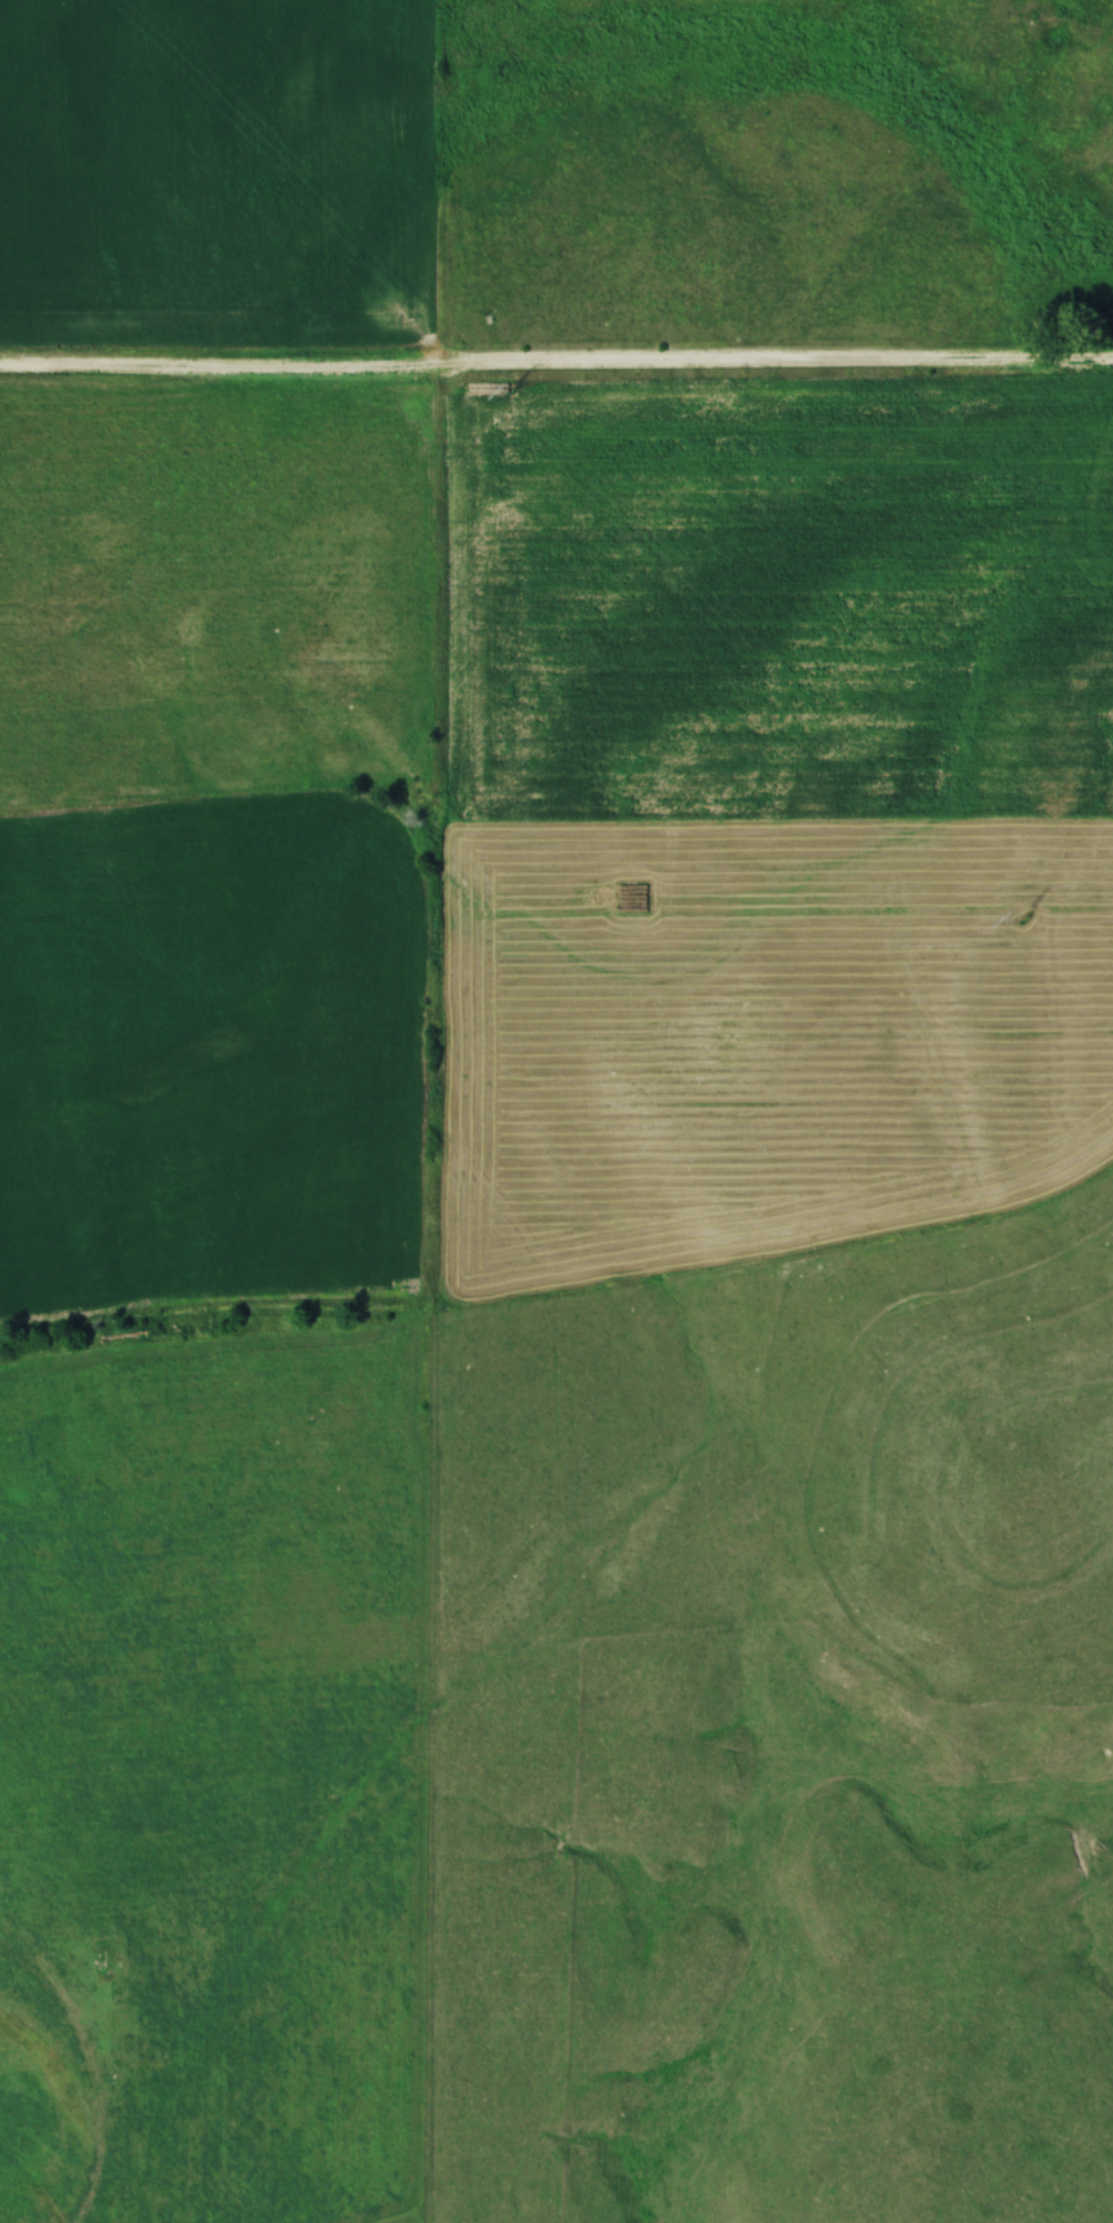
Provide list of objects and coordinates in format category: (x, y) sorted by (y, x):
road: (556, 358)
power tower: (513, 391)
power tower: (1025, 919)

